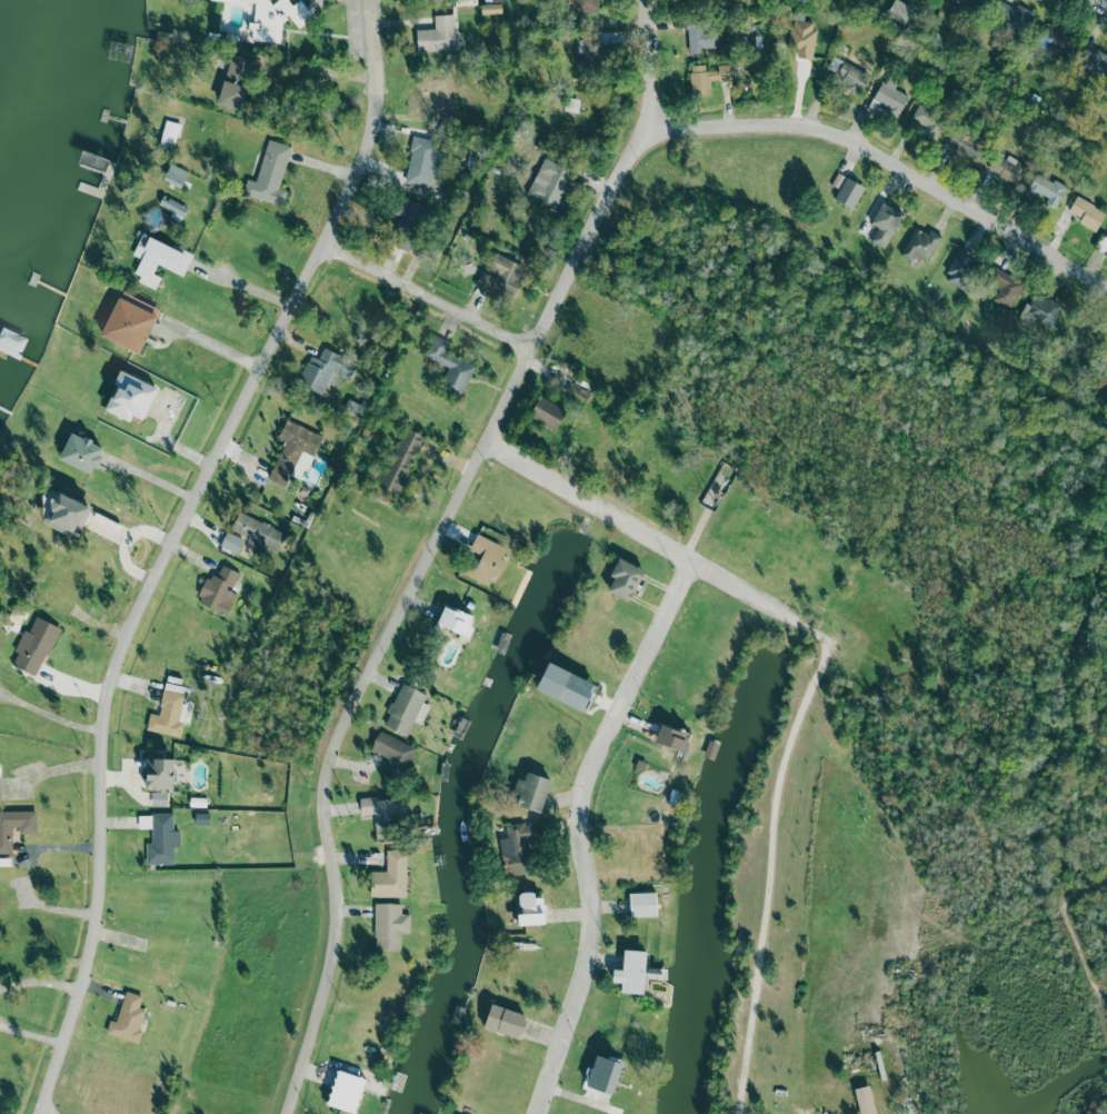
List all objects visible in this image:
building: (976, 2)
road: (1103, 2)
building: (586, 6)
building: (1016, 17)
building: (276, 18)
building: (438, 34)
building: (698, 36)
building: (801, 37)
building: (1056, 38)
building: (590, 56)
building: (1095, 63)
building: (847, 73)
building: (707, 77)
building: (235, 81)
building: (435, 93)
building: (890, 96)
building: (570, 105)
building: (927, 120)
building: (169, 133)
building: (966, 142)
building: (426, 162)
road: (891, 165)
building: (1006, 168)
building: (269, 173)
building: (176, 175)
building: (548, 180)
building: (837, 180)
building: (1046, 189)
building: (848, 192)
building: (173, 207)
building: (1087, 213)
building: (409, 221)
building: (885, 223)
building: (920, 245)
building: (158, 260)
building: (960, 269)
building: (501, 275)
road: (245, 286)
building: (1005, 289)
road: (426, 298)
building: (1040, 310)
building: (129, 321)
road: (216, 346)
building: (449, 366)
building: (325, 370)
building: (130, 397)
building: (547, 412)
building: (292, 449)
building: (81, 452)
building: (402, 460)
building: (66, 515)
building: (258, 531)
road: (641, 531)
building: (231, 541)
road: (170, 545)
road: (433, 545)
building: (483, 559)
building: (625, 578)
building: (219, 590)
building: (455, 620)
building: (34, 646)
building: (565, 686)
building: (406, 709)
building: (169, 712)
building: (672, 737)
building: (393, 755)
building: (159, 773)
building: (531, 792)
building: (159, 798)
building: (385, 814)
building: (14, 827)
road: (578, 829)
building: (162, 839)
building: (518, 847)
road: (770, 855)
building: (390, 875)
road: (1085, 886)
building: (642, 904)
building: (529, 908)
building: (389, 925)
road: (1085, 965)
building: (630, 972)
road: (38, 981)
building: (128, 1018)
building: (505, 1021)
building: (604, 1074)
building: (346, 1091)
building: (865, 1100)
road: (40, 1113)

